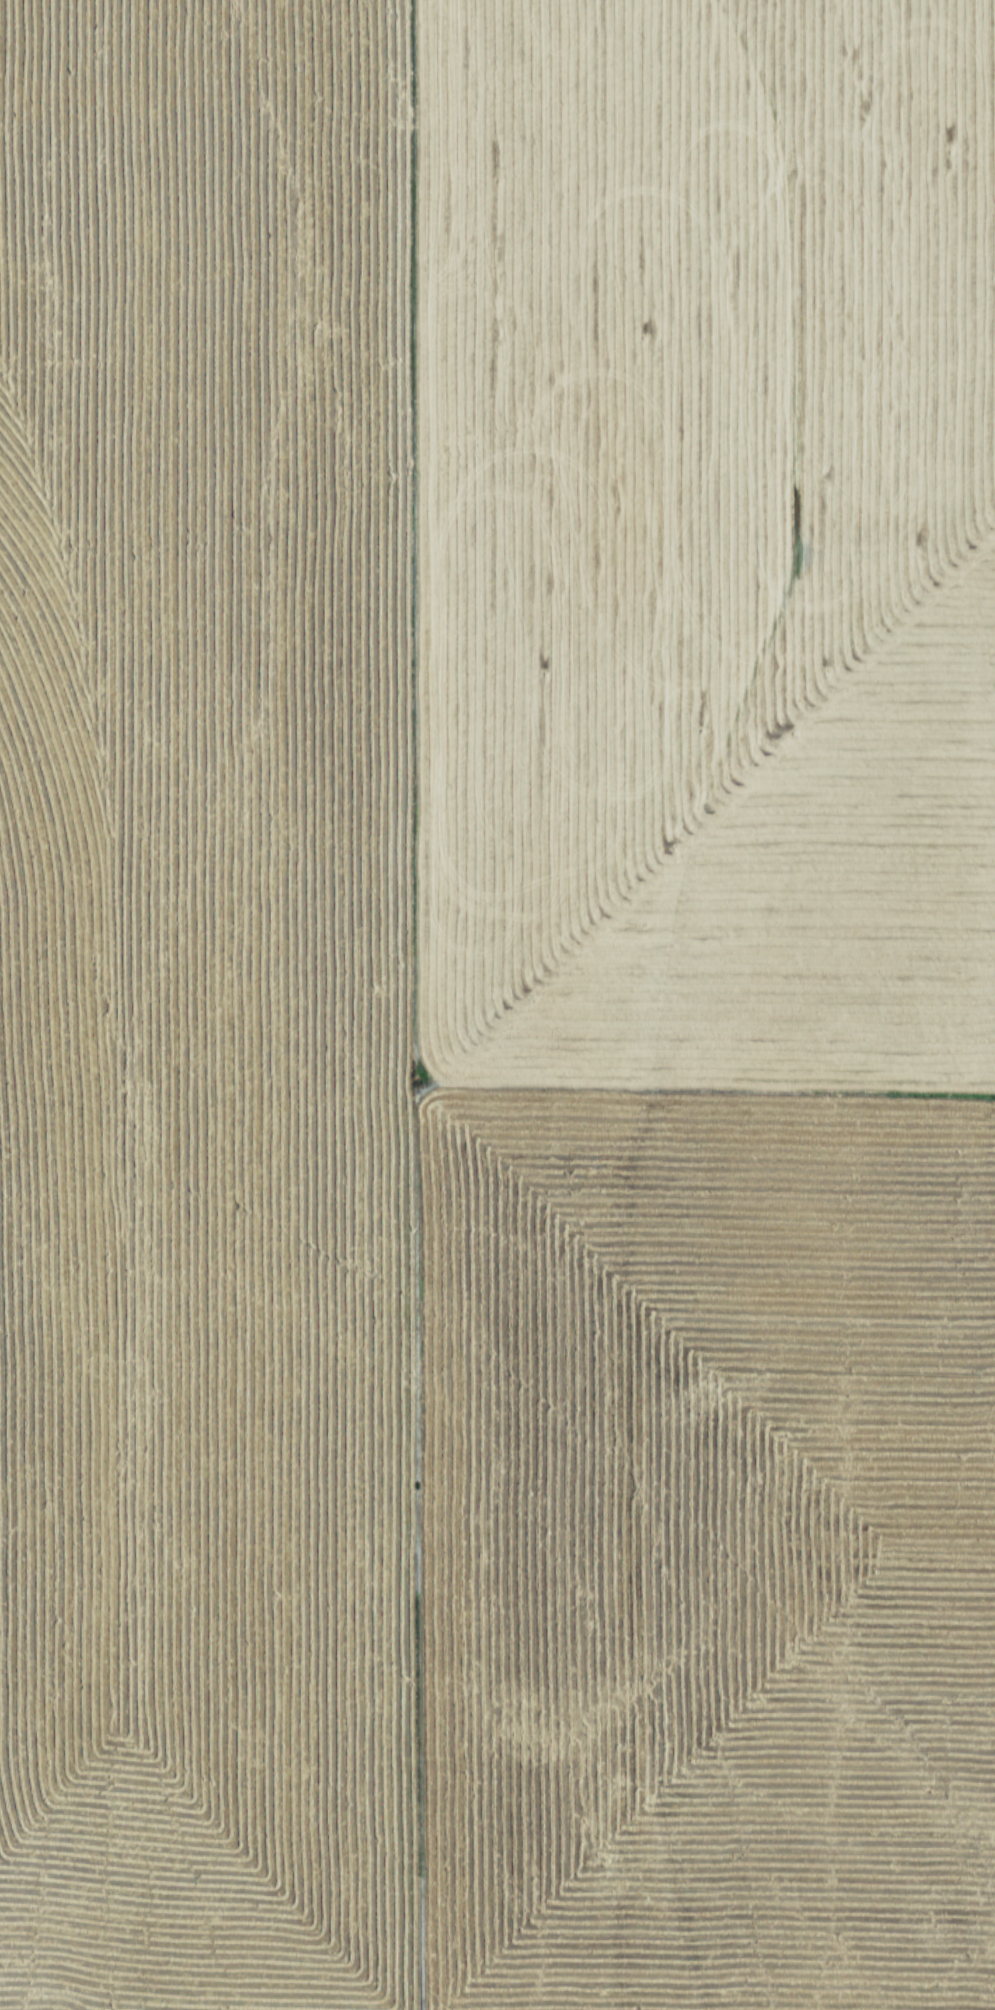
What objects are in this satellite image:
crop: (497, 1005)

